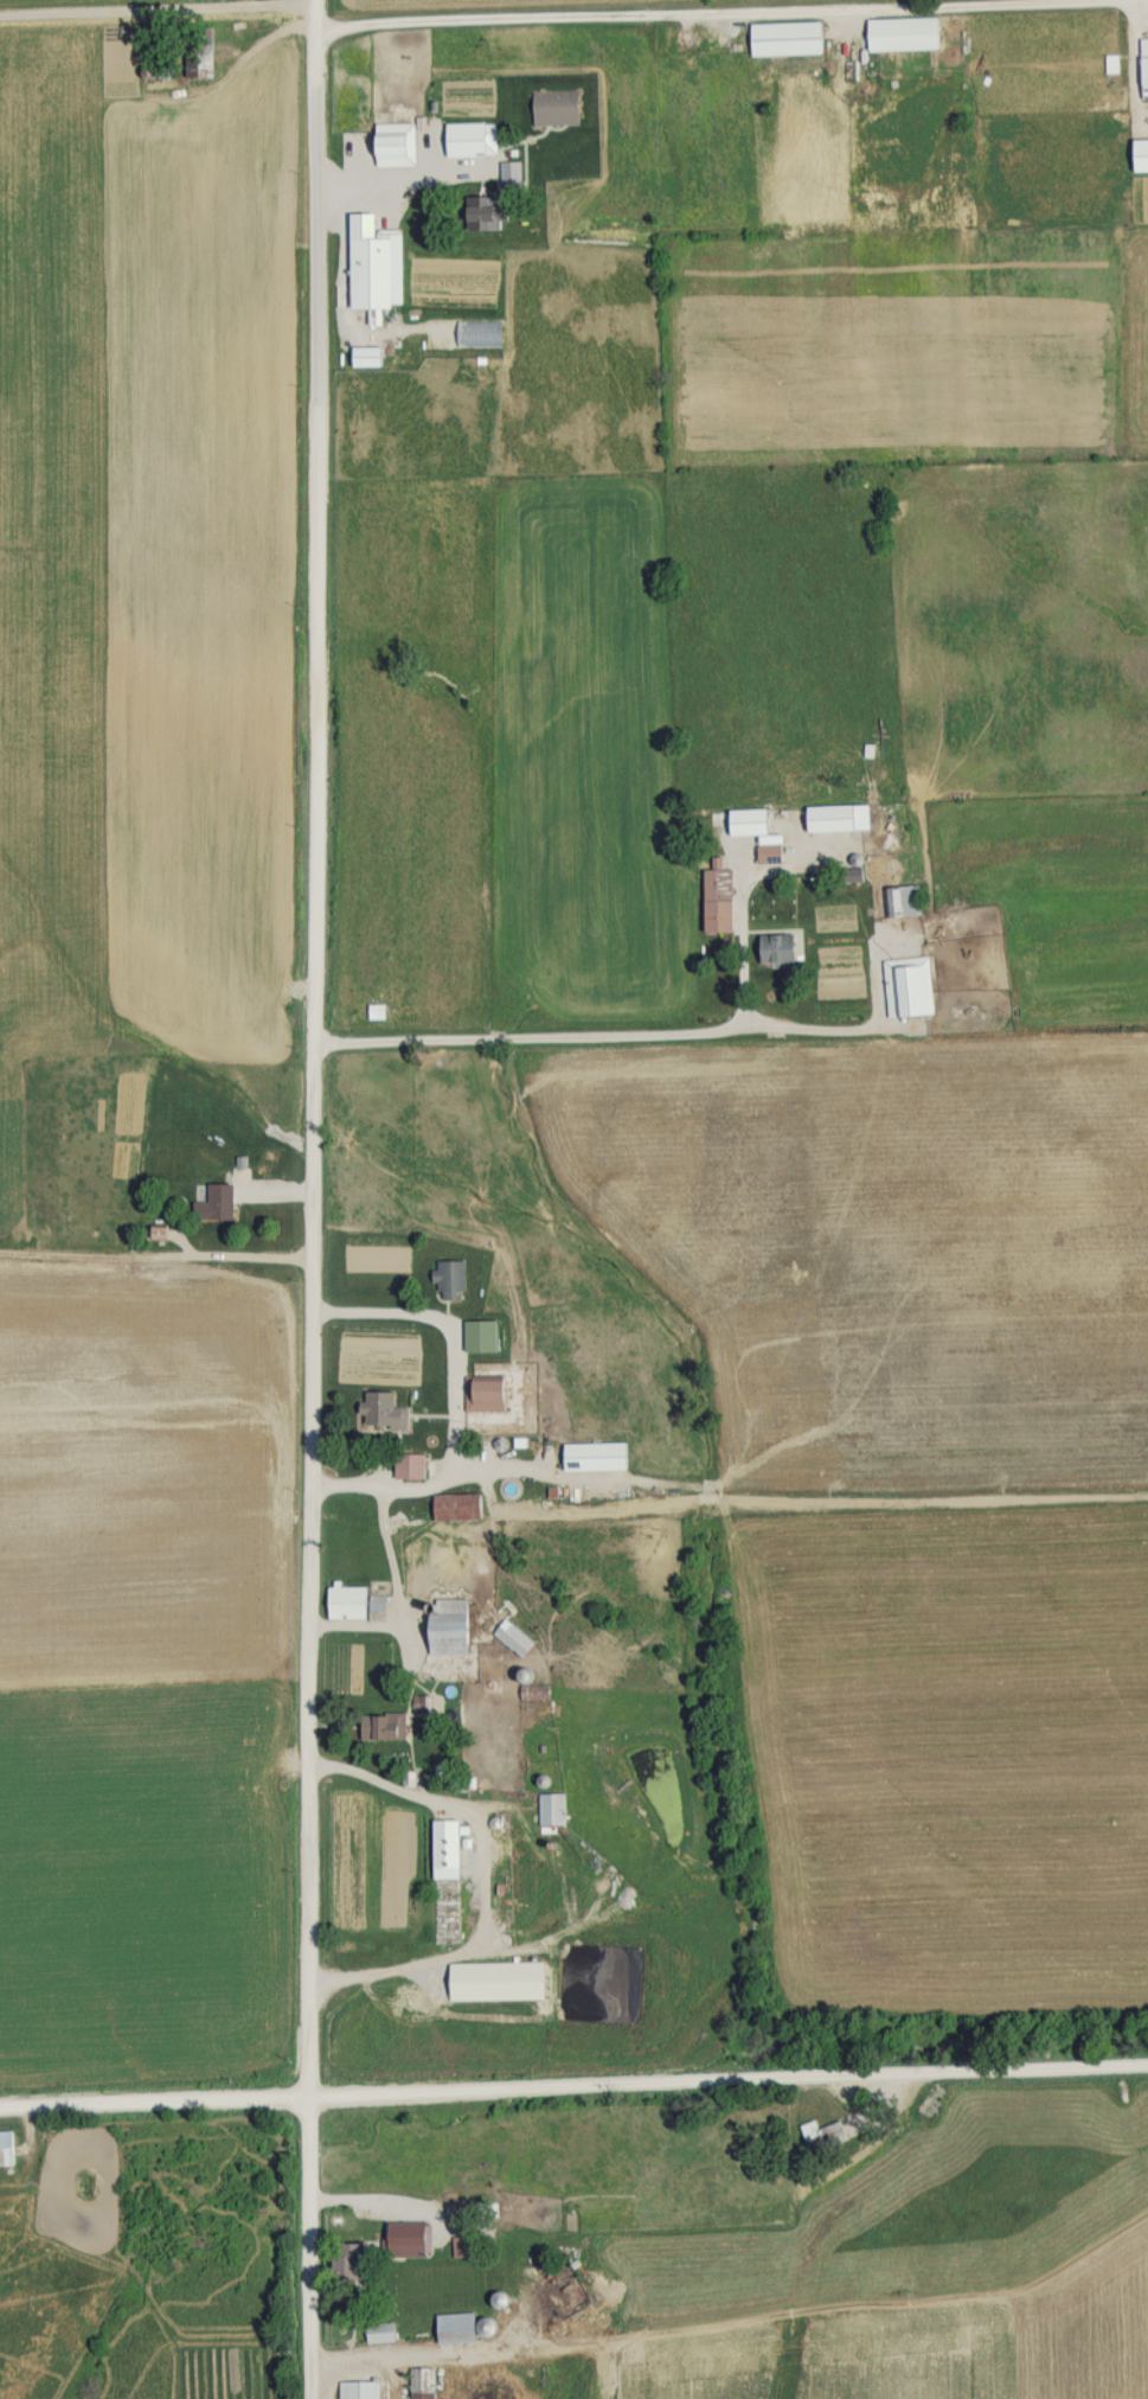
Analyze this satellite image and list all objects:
road: (730, 14)
building: (908, 33)
building: (790, 38)
building: (1141, 62)
building: (1108, 64)
building: (469, 141)
building: (397, 143)
building: (513, 173)
road: (402, 181)
building: (495, 212)
building: (376, 275)
building: (467, 333)
building: (477, 373)
building: (829, 819)
building: (751, 823)
building: (771, 853)
building: (720, 901)
building: (904, 902)
building: (781, 948)
building: (912, 986)
road: (567, 1051)
road: (307, 1199)
building: (220, 1204)
building: (165, 1233)
building: (146, 1272)
building: (453, 1279)
building: (485, 1336)
building: (492, 1394)
road: (455, 1403)
building: (381, 1410)
building: (599, 1457)
building: (413, 1466)
building: (461, 1508)
building: (358, 1604)
road: (404, 1610)
building: (457, 1630)
building: (517, 1639)
building: (395, 1727)
building: (554, 1809)
building: (447, 1875)
road: (487, 1885)
building: (501, 1982)
road: (573, 2093)
building: (815, 2132)
building: (8, 2149)
road: (358, 2199)
building: (475, 2209)
building: (594, 2213)
building: (354, 2260)
building: (443, 2295)
building: (461, 2327)
building: (385, 2331)
road: (416, 2358)
building: (427, 2382)
building: (363, 2390)

